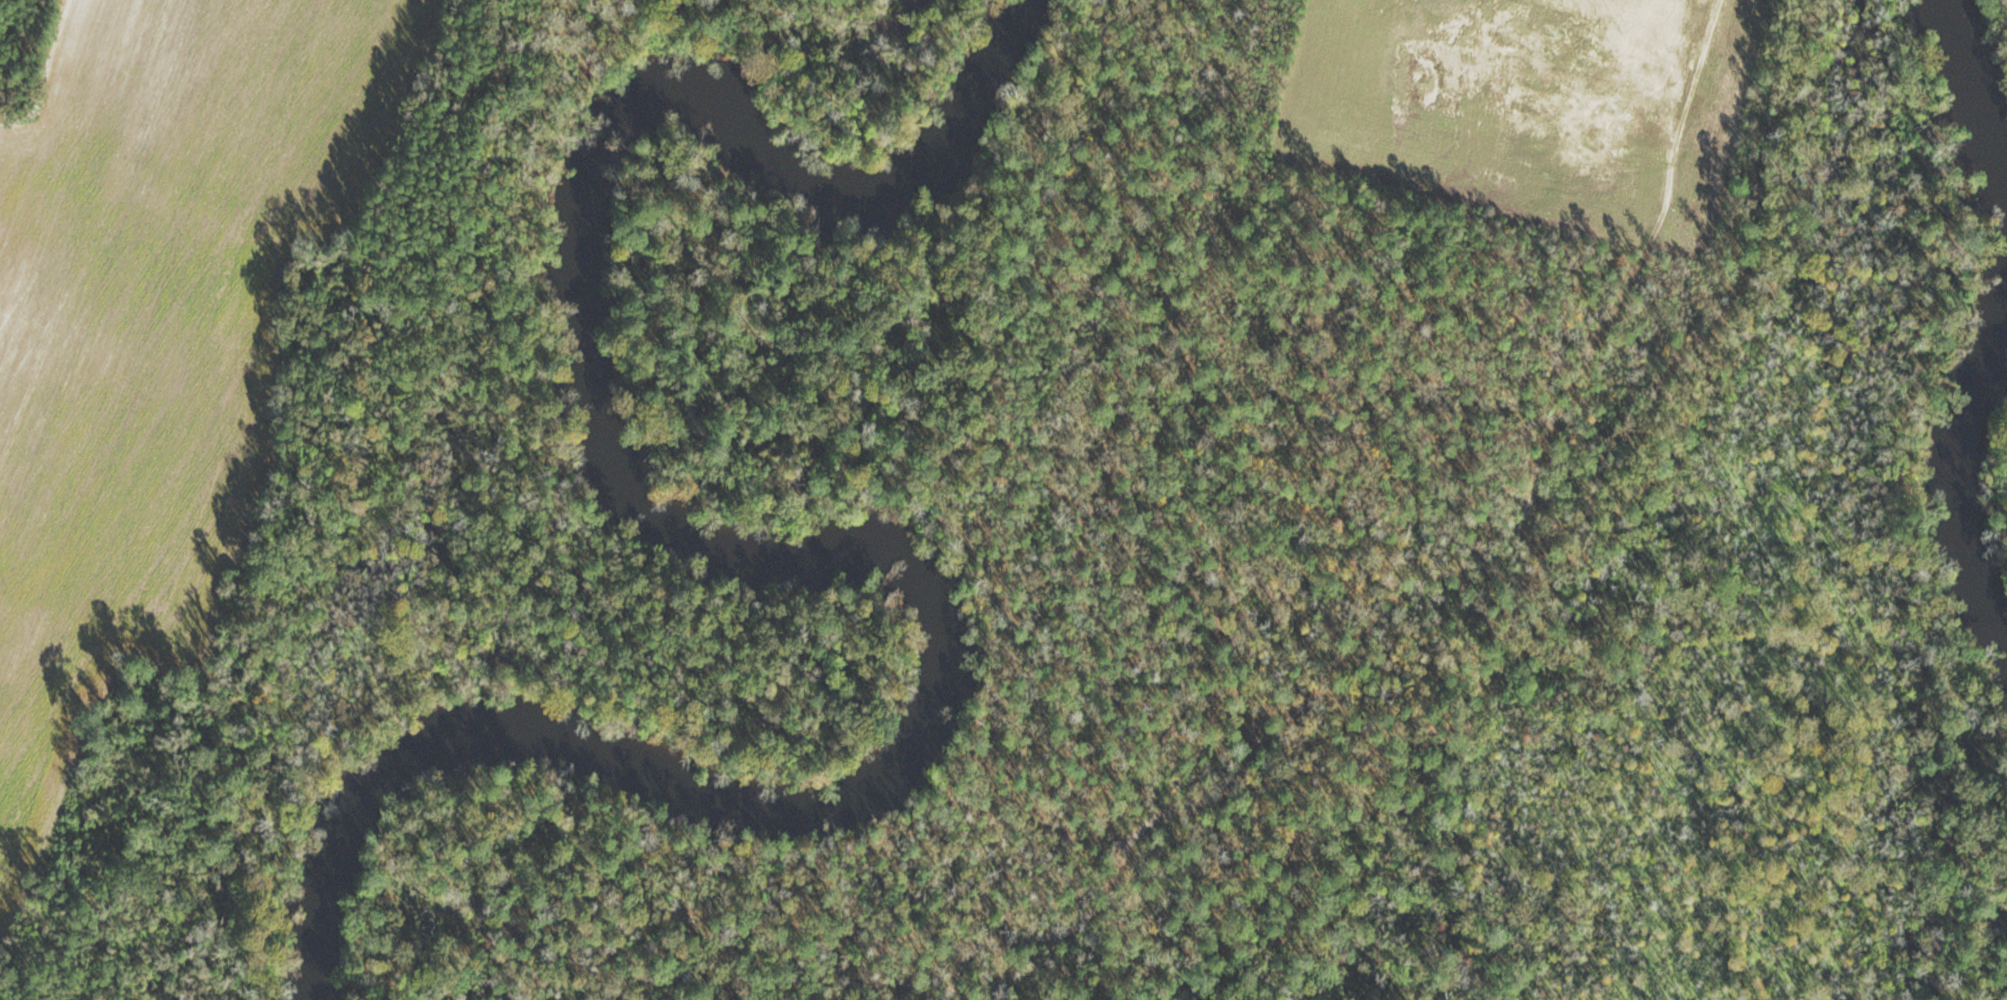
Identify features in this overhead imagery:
river: (1979, 113)
river: (1967, 485)
airport: (1333, 534)
river: (801, 554)

